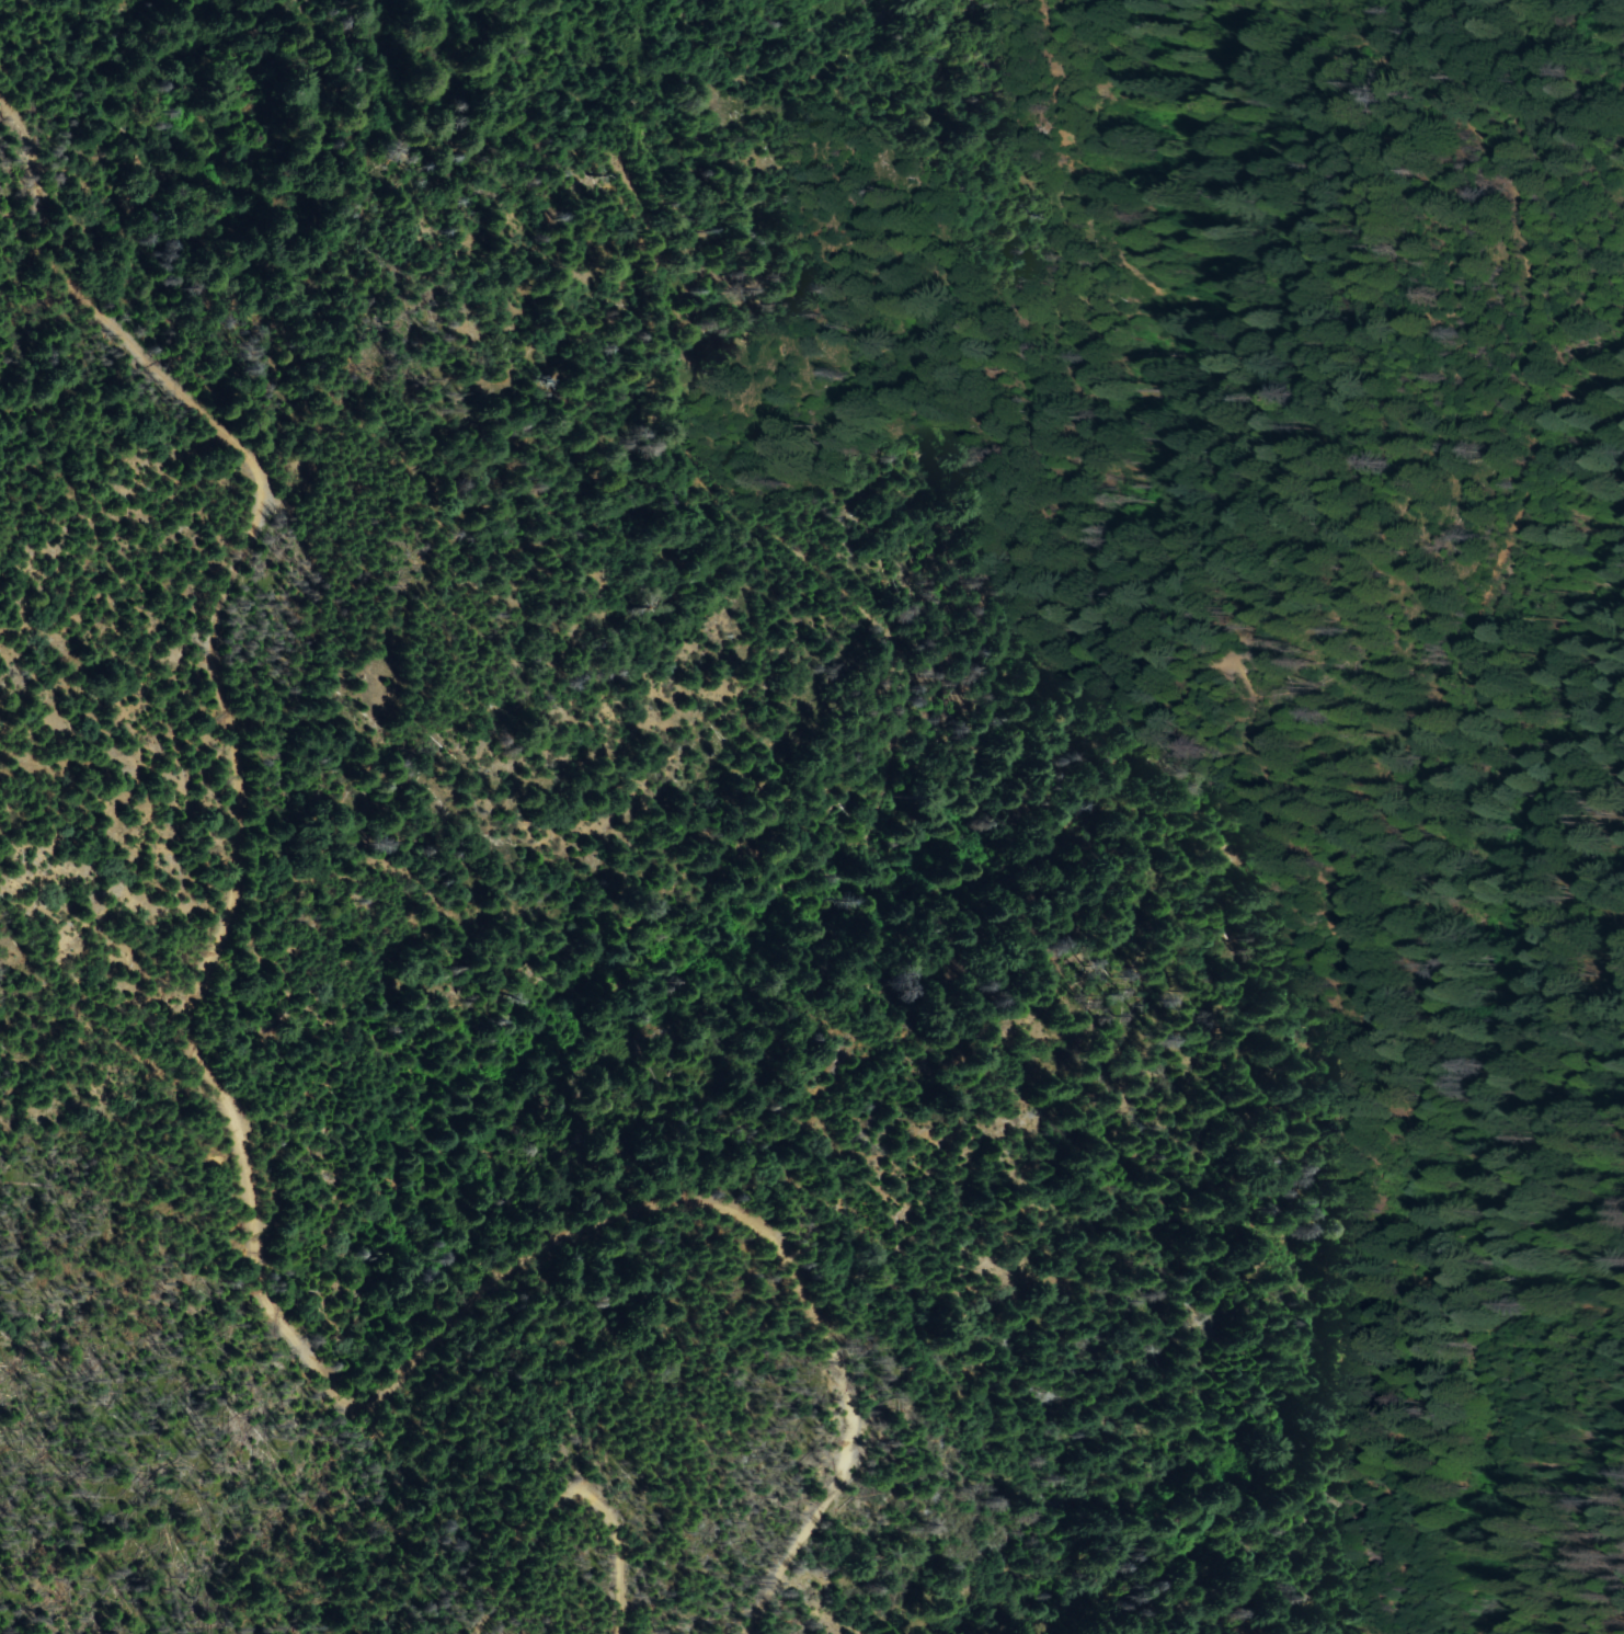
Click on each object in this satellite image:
road: (249, 1174)

